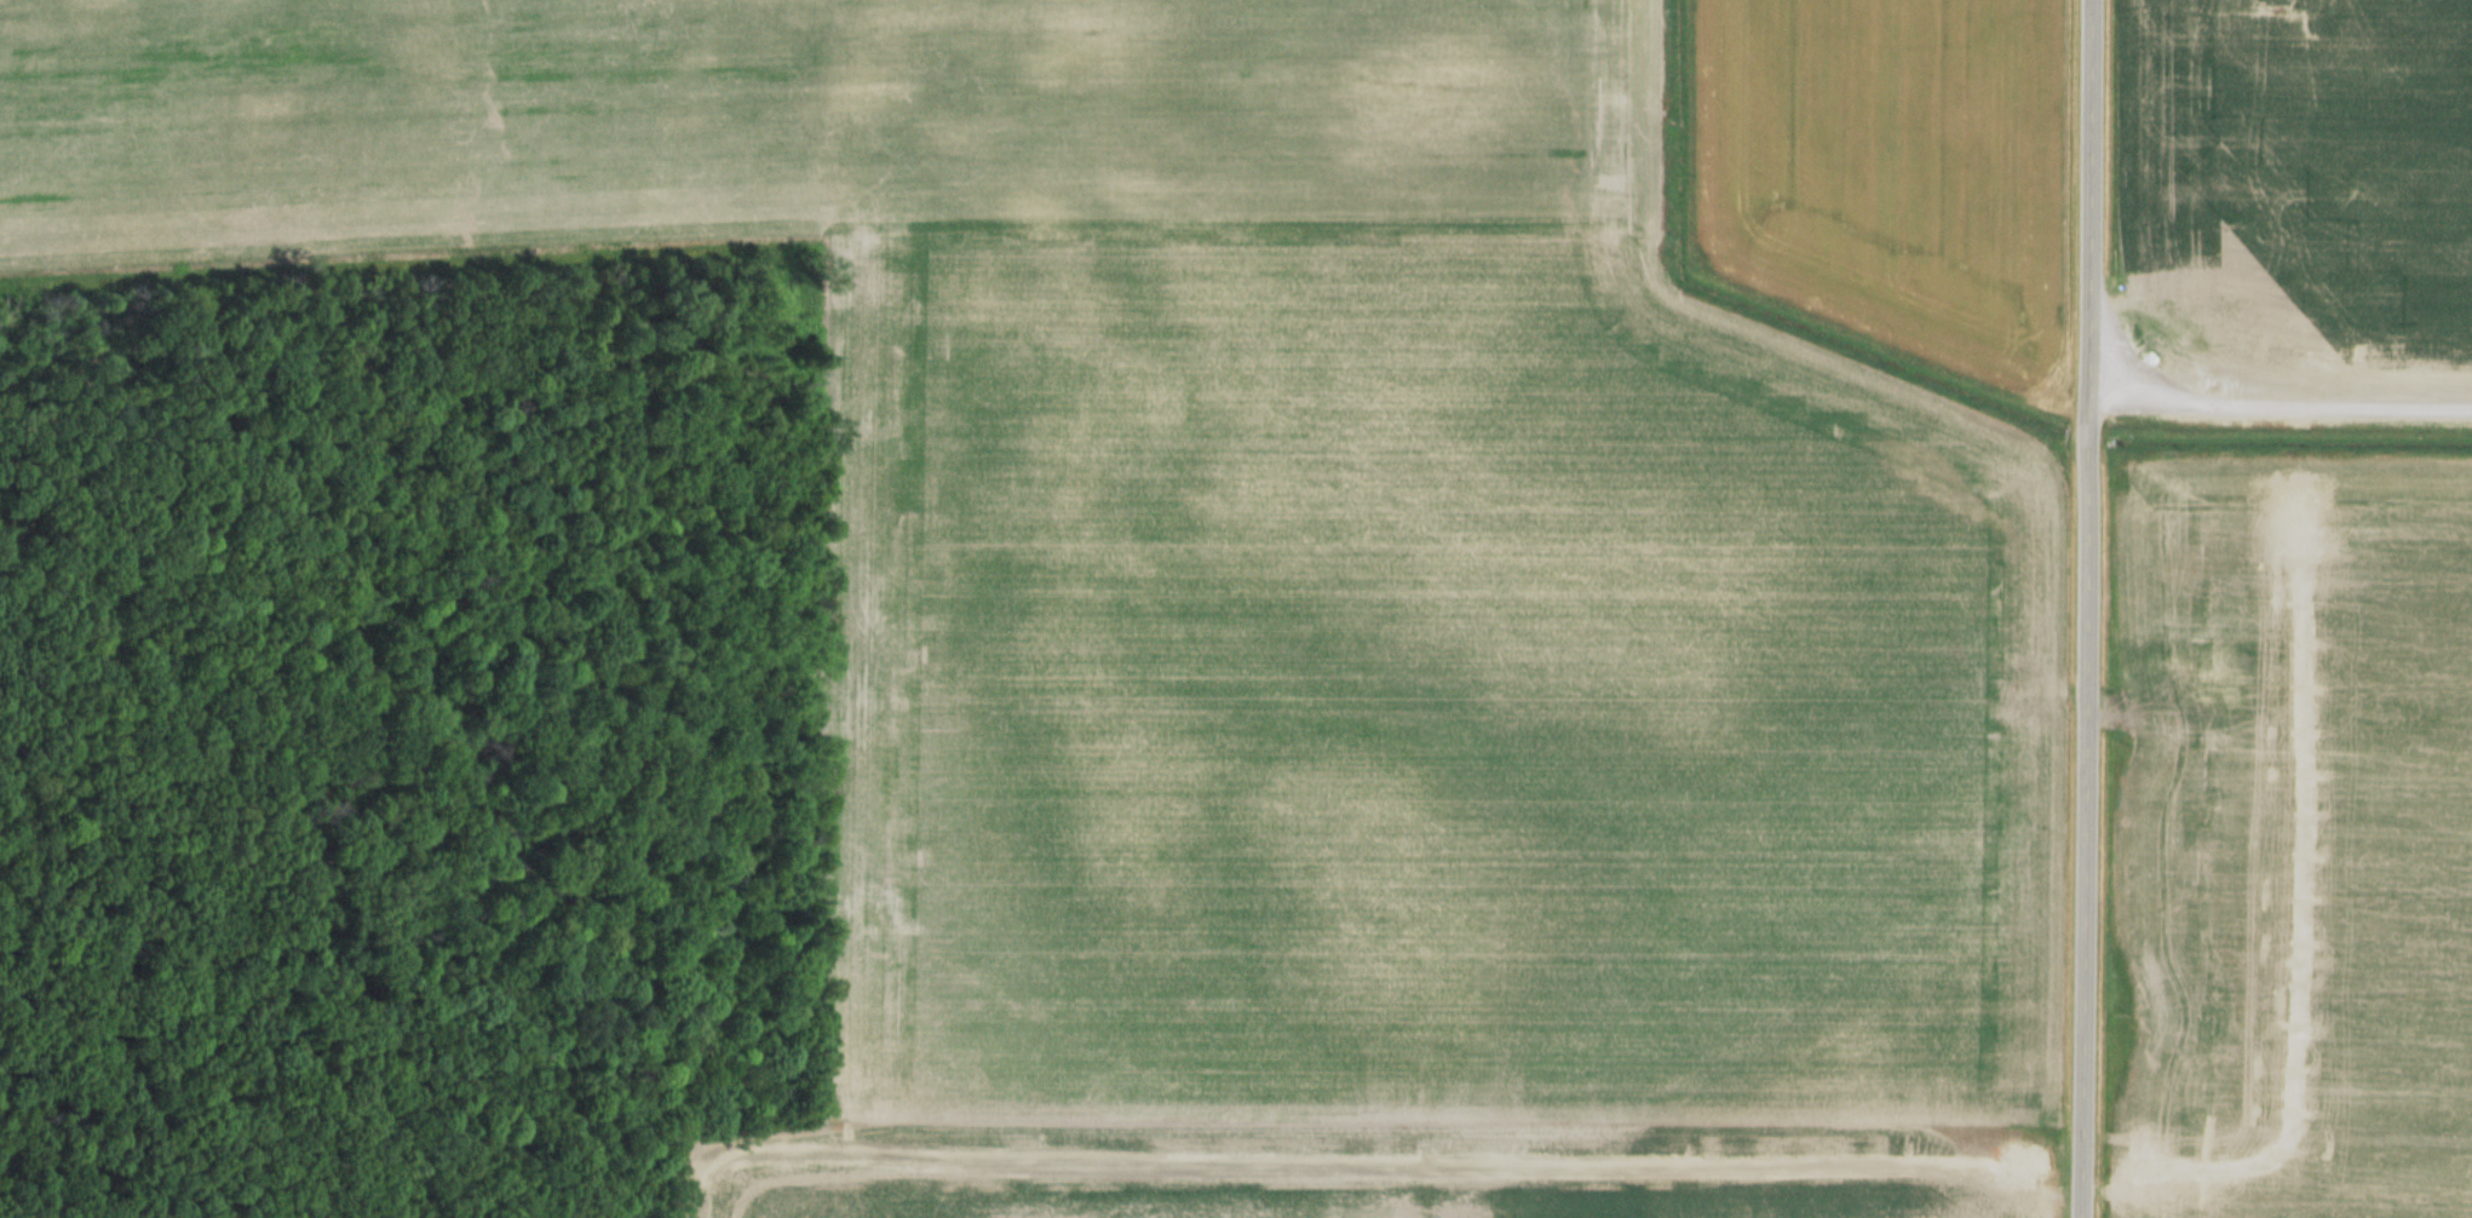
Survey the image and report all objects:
road: (2278, 401)
road: (2083, 609)
building: (2209, 674)

